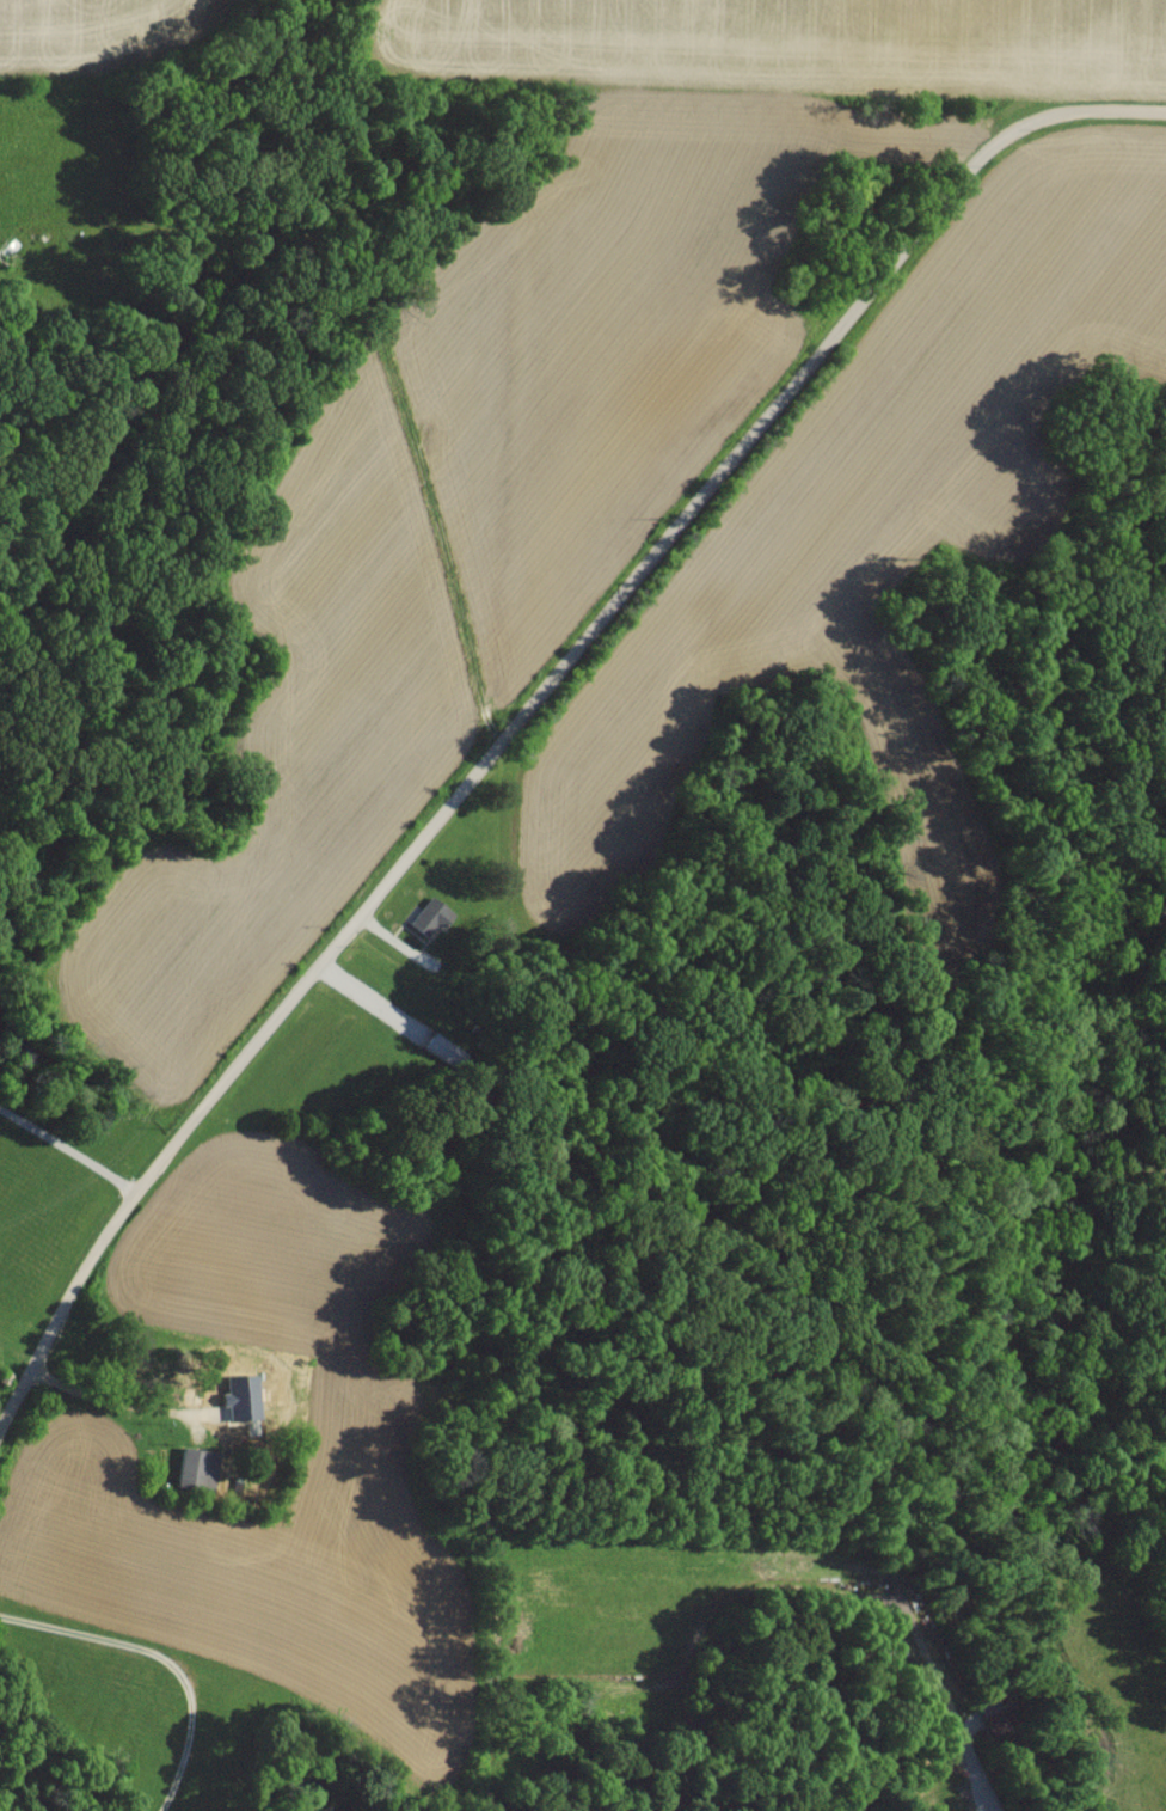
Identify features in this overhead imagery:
road: (542, 695)
building: (431, 914)
road: (369, 999)
building: (443, 1048)
road: (67, 1148)
building: (198, 1469)
road: (164, 1658)

